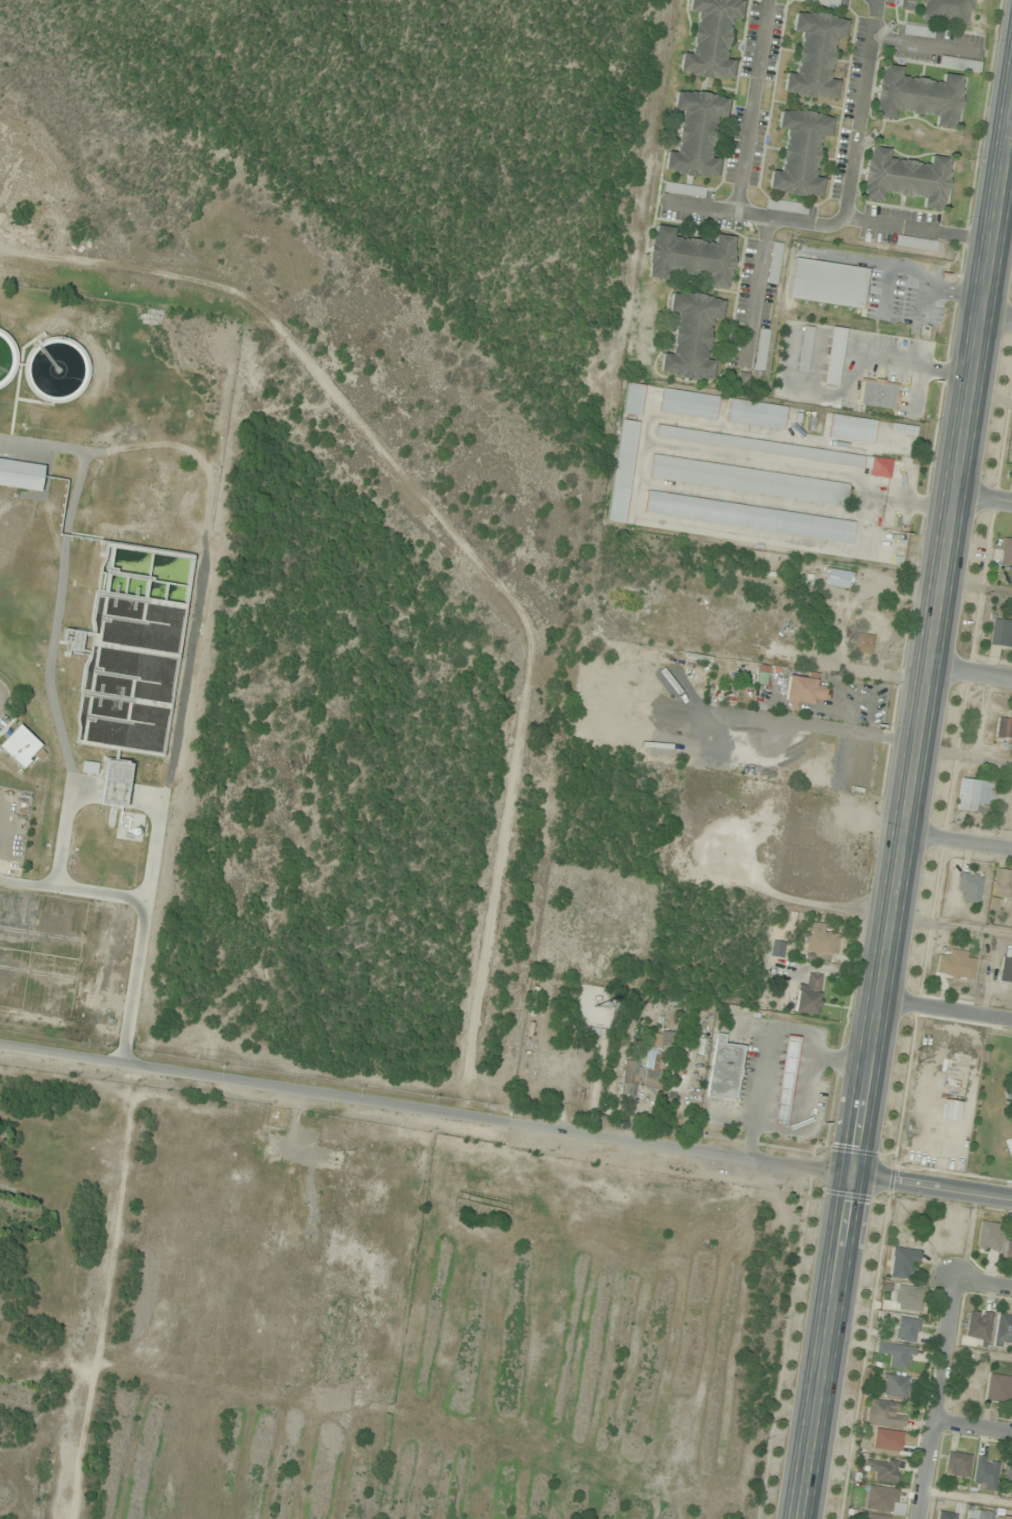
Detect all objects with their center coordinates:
building: (906, 5)
building: (946, 12)
building: (917, 31)
building: (710, 39)
road: (921, 43)
building: (814, 56)
building: (948, 62)
building: (917, 96)
road: (749, 106)
building: (695, 134)
road: (1011, 147)
building: (799, 153)
road: (850, 163)
building: (905, 178)
building: (683, 190)
road: (696, 206)
building: (786, 206)
road: (918, 229)
building: (915, 243)
building: (690, 257)
building: (773, 263)
building: (827, 283)
road: (754, 291)
road: (999, 317)
building: (690, 335)
building: (804, 348)
building: (760, 349)
building: (833, 356)
building: (741, 380)
building: (876, 395)
building: (632, 400)
building: (688, 404)
building: (756, 414)
building: (851, 428)
building: (779, 451)
building: (621, 471)
building: (747, 482)
road: (986, 499)
building: (748, 519)
building: (1005, 552)
building: (837, 578)
building: (1001, 633)
wastewater plant: (96, 634)
building: (862, 643)
road: (973, 675)
building: (801, 691)
building: (1004, 727)
building: (20, 746)
building: (974, 795)
road: (911, 829)
road: (961, 841)
building: (1002, 884)
building: (969, 887)
building: (818, 943)
wastewater plant: (64, 955)
building: (1005, 971)
building: (807, 995)
road: (949, 1014)
road: (772, 1034)
building: (643, 1066)
building: (723, 1069)
building: (784, 1081)
building: (949, 1110)
road: (799, 1117)
road: (505, 1129)
traffic signals: (861, 1177)
building: (988, 1235)
building: (1007, 1250)
building: (902, 1263)
road: (984, 1287)
building: (907, 1298)
building: (977, 1326)
building: (906, 1329)
building: (1003, 1330)
building: (895, 1354)
building: (892, 1386)
building: (997, 1388)
road: (937, 1401)
building: (883, 1413)
road: (973, 1431)
building: (956, 1464)
building: (882, 1469)
building: (984, 1473)
building: (1007, 1473)
building: (883, 1500)
building: (977, 1514)
building: (947, 1516)
building: (874, 1517)
building: (1002, 1517)

